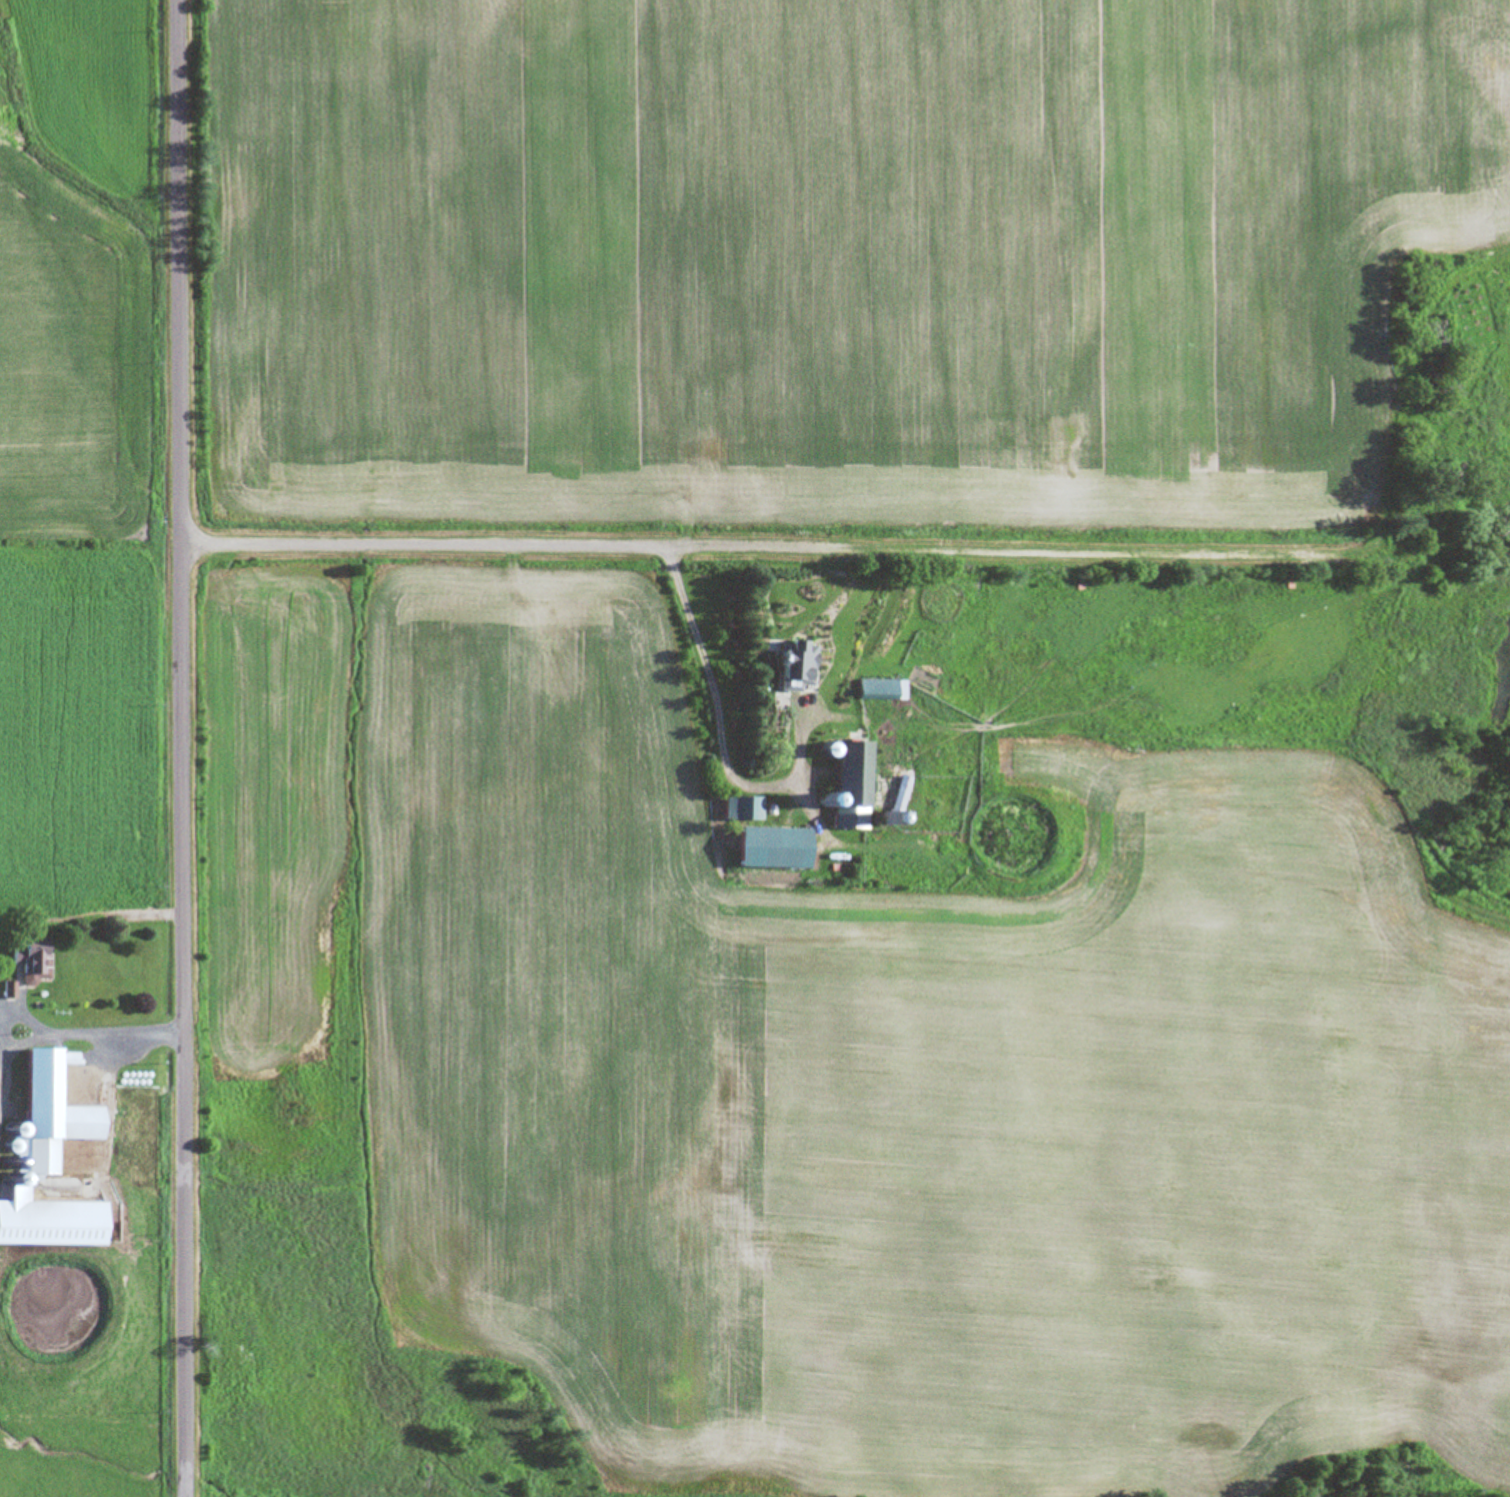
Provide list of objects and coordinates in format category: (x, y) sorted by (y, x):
road: (990, 551)
building: (793, 669)
building: (880, 690)
road: (718, 729)
road: (186, 748)
building: (848, 786)
building: (743, 809)
building: (1093, 822)
building: (771, 849)
building: (30, 959)
road: (22, 1017)
road: (114, 1029)
road: (22, 1037)
building: (52, 1126)

